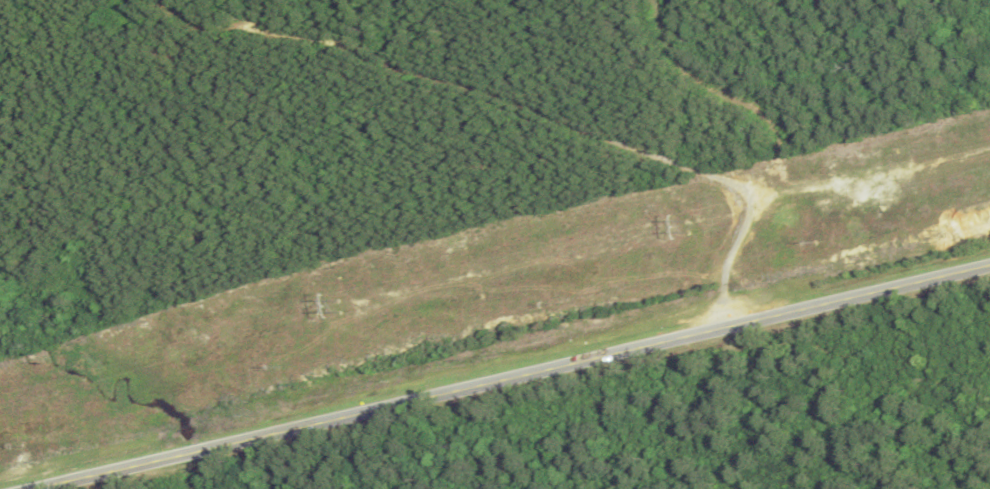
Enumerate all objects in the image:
road: (513, 112)
power tower: (687, 227)
power tower: (340, 304)
road: (515, 377)

